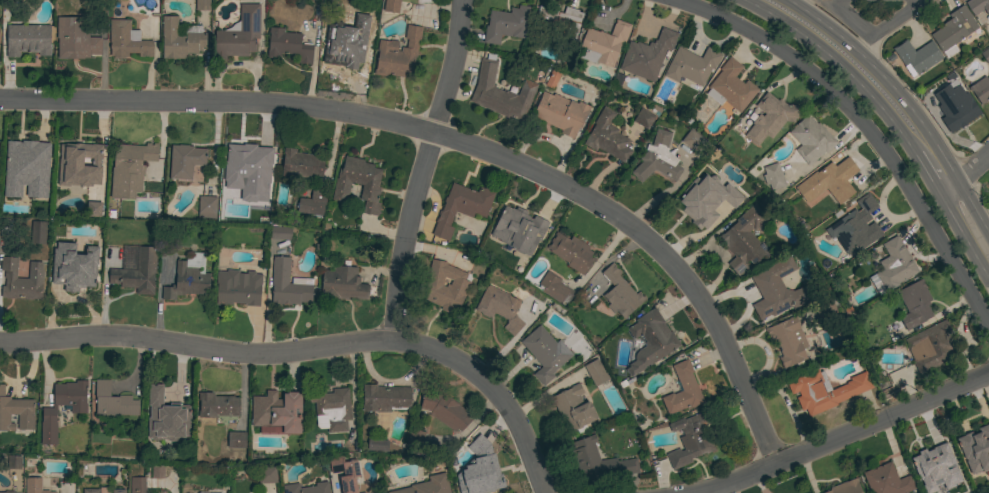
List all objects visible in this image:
building: (202, 5)
building: (391, 6)
building: (978, 6)
road: (851, 17)
road: (897, 17)
building: (506, 24)
building: (557, 24)
building: (953, 31)
building: (238, 34)
building: (180, 38)
building: (76, 39)
building: (28, 40)
building: (127, 41)
road: (862, 41)
building: (603, 44)
building: (287, 45)
building: (341, 51)
building: (398, 54)
building: (647, 55)
building: (985, 55)
building: (917, 56)
road: (839, 64)
building: (692, 65)
road: (884, 77)
building: (552, 78)
building: (730, 86)
building: (981, 89)
building: (500, 93)
building: (958, 106)
building: (560, 113)
building: (770, 117)
building: (643, 119)
road: (865, 127)
building: (607, 137)
building: (811, 139)
building: (692, 140)
road: (462, 146)
building: (657, 159)
building: (31, 161)
building: (185, 161)
building: (78, 162)
building: (301, 164)
building: (249, 166)
building: (130, 168)
road: (421, 170)
road: (925, 172)
road: (964, 172)
building: (773, 176)
building: (829, 181)
building: (359, 183)
building: (313, 202)
building: (703, 204)
building: (207, 207)
building: (461, 207)
road: (972, 209)
building: (93, 210)
building: (516, 221)
building: (855, 227)
building: (38, 232)
building: (280, 233)
road: (963, 237)
building: (744, 239)
building: (571, 252)
building: (892, 266)
building: (74, 270)
building: (137, 273)
building: (21, 280)
building: (186, 282)
building: (343, 283)
building: (288, 284)
building: (457, 286)
building: (238, 288)
building: (554, 288)
building: (776, 290)
building: (620, 293)
building: (499, 301)
building: (914, 304)
building: (824, 308)
building: (846, 312)
building: (650, 341)
building: (788, 341)
road: (311, 346)
building: (930, 346)
building: (545, 353)
building: (595, 372)
building: (682, 389)
building: (824, 390)
building: (384, 398)
building: (113, 401)
building: (217, 405)
building: (332, 407)
building: (573, 408)
building: (444, 410)
building: (17, 411)
building: (78, 411)
building: (277, 411)
building: (166, 417)
road: (839, 436)
building: (415, 438)
building: (690, 439)
building: (236, 440)
building: (376, 446)
building: (970, 446)
building: (14, 462)
building: (598, 462)
building: (931, 466)
building: (157, 471)
building: (481, 471)
building: (345, 473)
building: (266, 474)
building: (886, 480)
building: (137, 485)
building: (428, 485)
building: (34, 486)
building: (845, 487)
building: (306, 488)
building: (963, 490)
building: (90, 491)
building: (118, 491)
building: (8, 492)
building: (203, 492)
building: (363, 492)

